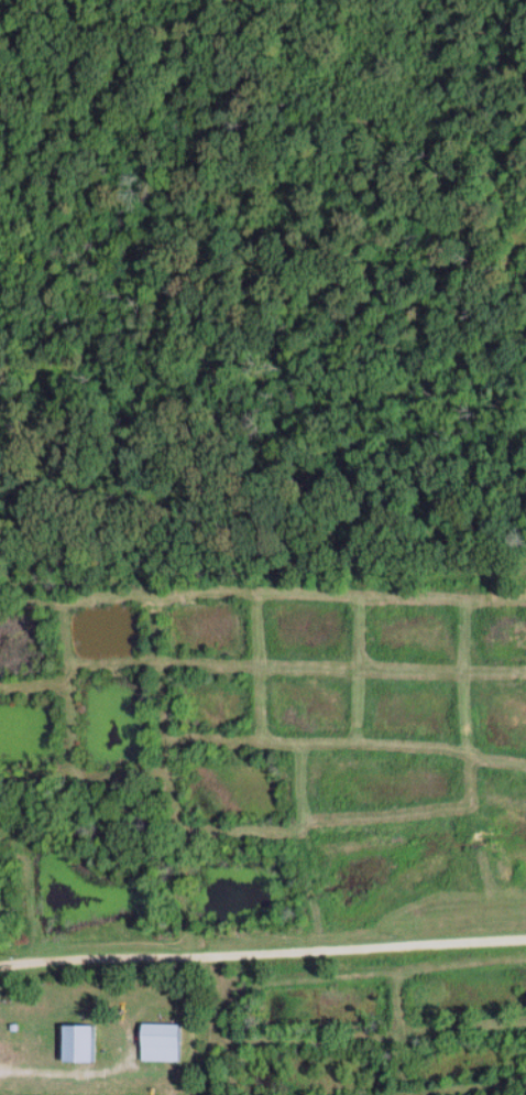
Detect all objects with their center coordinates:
road: (263, 953)
building: (164, 1043)
building: (81, 1045)
road: (61, 1072)

